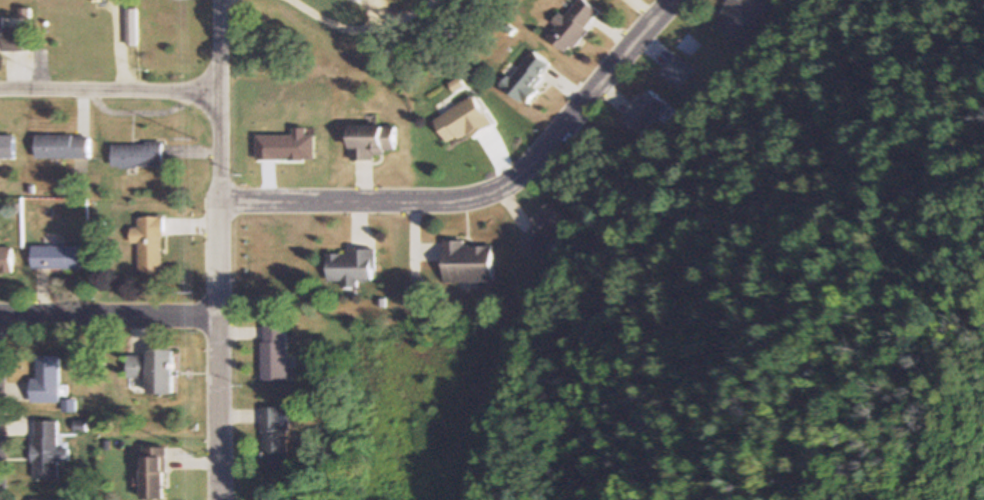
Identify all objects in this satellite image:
road: (419, 0)
building: (572, 26)
building: (133, 34)
building: (12, 38)
building: (527, 77)
road: (111, 90)
building: (644, 111)
building: (461, 122)
building: (370, 143)
building: (64, 148)
building: (8, 149)
building: (138, 155)
road: (487, 193)
building: (544, 229)
building: (150, 244)
road: (219, 249)
building: (57, 257)
building: (6, 259)
building: (465, 262)
building: (351, 267)
building: (414, 289)
road: (109, 317)
building: (274, 353)
building: (152, 371)
building: (45, 381)
building: (68, 406)
building: (276, 437)
building: (46, 450)
building: (151, 473)
building: (46, 499)

